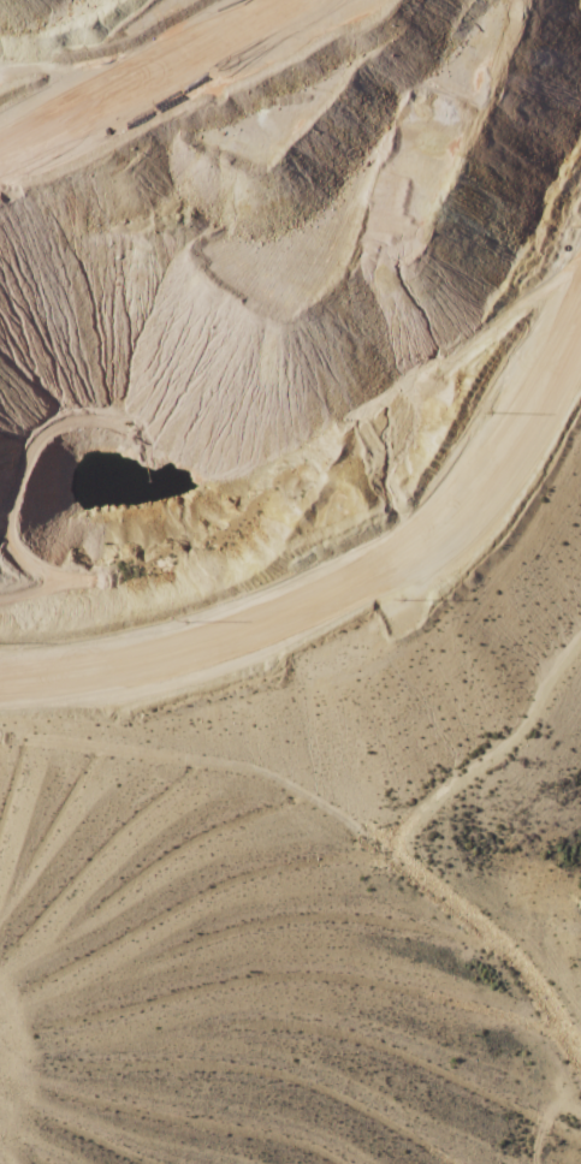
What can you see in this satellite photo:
quarry: (280, 566)

